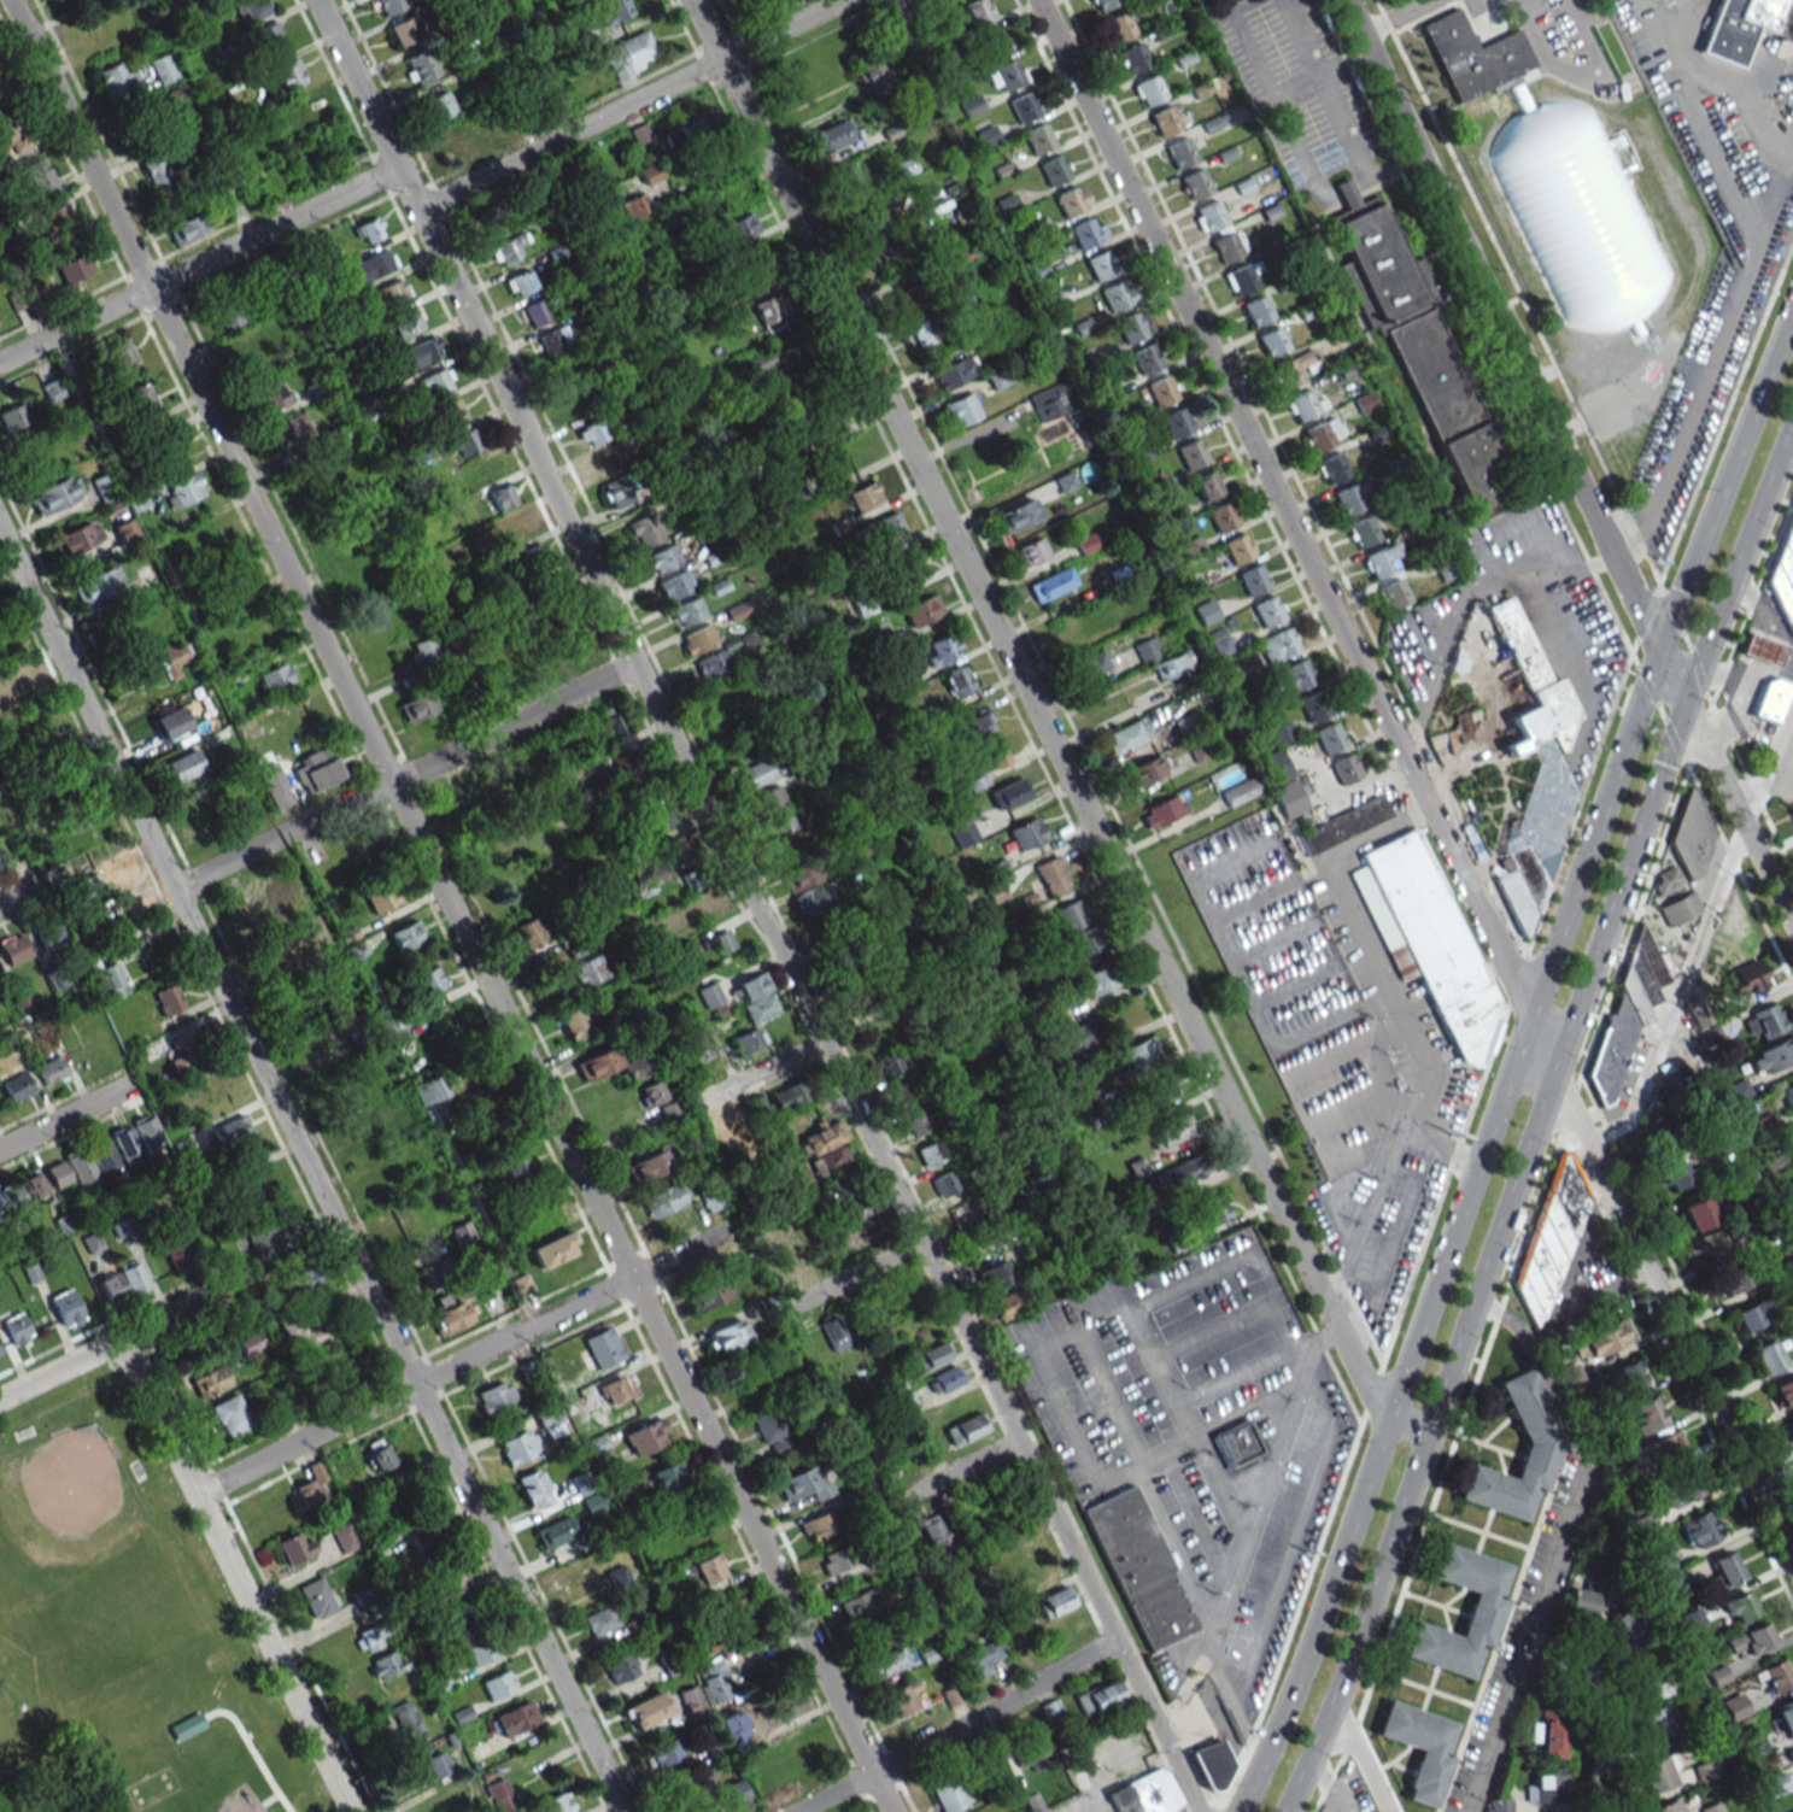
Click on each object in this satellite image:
building: (70, 1)
building: (1103, 4)
building: (391, 6)
building: (252, 8)
building: (616, 11)
building: (978, 12)
road: (1396, 17)
road: (1572, 22)
building: (1119, 25)
building: (1747, 25)
building: (403, 31)
building: (268, 37)
building: (991, 45)
building: (629, 54)
building: (1473, 55)
building: (1133, 58)
road: (1314, 64)
building: (421, 66)
building: (163, 68)
building: (288, 74)
building: (874, 75)
building: (1006, 76)
building: (116, 78)
road: (1722, 81)
building: (1148, 89)
road: (1297, 90)
road: (1272, 96)
building: (177, 99)
road: (629, 104)
building: (440, 105)
building: (971, 105)
building: (1023, 107)
building: (310, 112)
building: (1165, 121)
building: (695, 131)
building: (12, 135)
building: (833, 135)
building: (988, 136)
building: (1038, 137)
building: (1179, 152)
road: (1355, 156)
building: (906, 168)
building: (1054, 170)
building: (650, 172)
building: (159, 174)
building: (37, 175)
building: (849, 181)
building: (1195, 183)
road: (1360, 183)
road: (1347, 190)
building: (1072, 200)
building: (634, 205)
parking lot: (1713, 213)
building: (1209, 215)
building: (1531, 217)
building: (492, 218)
building: (967, 218)
building: (53, 221)
building: (189, 227)
building: (742, 227)
building: (369, 230)
building: (1086, 231)
building: (1229, 245)
building: (508, 250)
building: (887, 252)
road: (198, 264)
building: (373, 265)
building: (1100, 265)
building: (74, 268)
building: (758, 277)
building: (1242, 277)
building: (520, 283)
building: (392, 292)
building: (35, 294)
building: (1114, 297)
building: (909, 298)
building: (538, 309)
building: (1256, 310)
building: (768, 313)
building: (1599, 313)
building: (228, 315)
building: (406, 323)
building: (1133, 326)
building: (926, 330)
building: (553, 339)
road: (1507, 340)
building: (1271, 341)
building: (1417, 345)
building: (422, 351)
building: (118, 354)
building: (1145, 359)
building: (1294, 368)
building: (954, 371)
road: (1707, 373)
building: (768, 375)
building: (998, 377)
building: (435, 382)
building: (52, 389)
building: (315, 389)
building: (1161, 391)
building: (271, 394)
building: (141, 400)
building: (1047, 401)
building: (581, 403)
building: (1303, 405)
building: (961, 410)
building: (452, 411)
building: (821, 415)
building: (13, 417)
building: (1176, 422)
building: (289, 430)
building: (593, 433)
building: (1319, 434)
building: (463, 441)
building: (165, 448)
building: (1191, 453)
building: (609, 462)
building: (1332, 468)
building: (1207, 485)
building: (102, 487)
building: (183, 491)
building: (617, 493)
building: (54, 494)
building: (865, 495)
building: (502, 497)
building: (1354, 497)
building: (1016, 515)
building: (1223, 517)
building: (1792, 523)
building: (889, 524)
building: (517, 527)
building: (125, 530)
building: (643, 530)
building: (1363, 530)
building: (78, 536)
building: (1789, 543)
building: (1237, 549)
building: (1032, 551)
building: (662, 559)
building: (1381, 559)
building: (534, 561)
building: (1785, 565)
building: (1446, 568)
building: (150, 577)
building: (1253, 580)
building: (1051, 584)
building: (98, 585)
building: (675, 586)
building: (1393, 594)
building: (1781, 594)
road: (1461, 599)
building: (1112, 604)
building: (865, 605)
road: (1751, 606)
building: (922, 610)
building: (687, 611)
building: (1206, 611)
building: (1268, 611)
parking lot: (1524, 618)
building: (562, 621)
building: (698, 639)
building: (1220, 641)
building: (1277, 645)
traffic signals: (1658, 649)
building: (563, 650)
building: (942, 650)
building: (1145, 650)
building: (424, 651)
building: (1763, 651)
building: (174, 657)
building: (713, 664)
building: (1094, 664)
building: (1172, 664)
building: (499, 674)
building: (275, 678)
building: (1293, 678)
building: (957, 681)
building: (1771, 700)
building: (1314, 705)
traffic signals: (1684, 705)
building: (416, 706)
building: (744, 713)
building: (615, 717)
road: (1042, 721)
building: (170, 722)
building: (1185, 723)
building: (974, 727)
building: (592, 728)
road: (1628, 733)
building: (1127, 737)
building: (1330, 737)
road: (1700, 738)
building: (996, 755)
building: (625, 757)
building: (182, 766)
building: (317, 768)
building: (1344, 768)
building: (1145, 770)
building: (757, 772)
building: (1534, 775)
road: (403, 776)
road: (1416, 781)
building: (1282, 784)
road: (1752, 786)
building: (1240, 791)
building: (1009, 792)
building: (770, 799)
road: (1733, 802)
building: (1161, 810)
building: (1792, 811)
building: (78, 814)
building: (195, 816)
building: (658, 819)
building: (780, 823)
building: (1343, 825)
building: (962, 832)
building: (527, 833)
building: (1026, 833)
building: (673, 849)
building: (790, 849)
building: (0, 863)
building: (289, 873)
building: (799, 875)
building: (1051, 875)
building: (526, 876)
building: (695, 878)
building: (1666, 880)
building: (89, 886)
building: (996, 892)
road: (19, 893)
building: (381, 898)
building: (813, 901)
road: (450, 905)
road: (756, 905)
building: (250, 908)
building: (1680, 909)
building: (705, 910)
building: (1070, 915)
road: (1633, 923)
building: (529, 933)
road: (1703, 934)
building: (406, 936)
building: (52, 938)
building: (352, 942)
building: (324, 943)
building: (1082, 944)
building: (1432, 944)
building: (123, 946)
building: (13, 948)
building: (273, 956)
building: (590, 970)
building: (58, 977)
building: (1746, 978)
building: (109, 980)
building: (428, 980)
building: (1098, 980)
building: (709, 995)
building: (756, 997)
building: (168, 999)
building: (856, 1001)
building: (1698, 1014)
building: (1627, 1015)
building: (1765, 1020)
building: (573, 1022)
road: (1385, 1026)
building: (872, 1034)
building: (1074, 1037)
building: (746, 1040)
parking lot: (1337, 1040)
building: (699, 1048)
building: (1139, 1054)
building: (1776, 1054)
building: (183, 1061)
building: (611, 1065)
building: (887, 1065)
building: (51, 1069)
road: (756, 1075)
building: (16, 1087)
building: (428, 1090)
building: (650, 1093)
building: (787, 1096)
building: (904, 1096)
building: (1788, 1096)
building: (402, 1104)
building: (760, 1109)
road: (1569, 1109)
road: (68, 1115)
road: (1540, 1118)
building: (916, 1124)
building: (147, 1131)
building: (230, 1131)
building: (1171, 1131)
building: (739, 1132)
building: (822, 1136)
building: (125, 1142)
building: (184, 1148)
building: (931, 1153)
building: (90, 1160)
building: (828, 1161)
building: (515, 1166)
building: (646, 1166)
building: (1188, 1168)
road: (310, 1172)
building: (58, 1173)
building: (1681, 1175)
building: (799, 1177)
building: (943, 1184)
building: (34, 1185)
building: (247, 1186)
building: (711, 1197)
building: (10, 1198)
building: (664, 1198)
building: (998, 1206)
building: (1214, 1209)
building: (1699, 1213)
building: (960, 1216)
building: (1554, 1219)
building: (122, 1227)
building: (264, 1232)
building: (462, 1232)
building: (1715, 1243)
building: (793, 1248)
building: (176, 1249)
building: (552, 1249)
building: (1060, 1269)
building: (439, 1272)
road: (852, 1276)
building: (992, 1276)
building: (133, 1277)
building: (1739, 1279)
building: (301, 1282)
building: (112, 1289)
building: (707, 1294)
building: (1006, 1304)
building: (77, 1307)
building: (450, 1314)
building: (1753, 1314)
building: (14, 1326)
building: (298, 1330)
building: (832, 1332)
building: (725, 1336)
building: (1601, 1339)
building: (809, 1341)
road: (115, 1343)
building: (250, 1343)
building: (599, 1349)
building: (0, 1354)
building: (930, 1356)
building: (1766, 1356)
road: (462, 1361)
road: (1545, 1373)
building: (1630, 1376)
building: (750, 1377)
building: (945, 1378)
building: (210, 1382)
building: (615, 1390)
building: (1783, 1391)
building: (494, 1396)
building: (279, 1402)
building: (230, 1415)
building: (1648, 1415)
building: (550, 1420)
road: (1458, 1426)
building: (965, 1427)
building: (772, 1431)
building: (1789, 1431)
road: (1417, 1433)
building: (646, 1436)
parking lot: (1196, 1439)
building: (1542, 1443)
building: (1237, 1444)
building: (520, 1446)
building: (1657, 1450)
building: (377, 1454)
road: (1273, 1461)
road: (957, 1470)
building: (669, 1476)
building: (805, 1483)
building: (534, 1489)
building: (1680, 1489)
road: (1361, 1491)
building: (400, 1495)
park: (70, 1497)
building: (818, 1525)
building: (1699, 1529)
building: (555, 1531)
building: (934, 1534)
building: (342, 1536)
building: (429, 1538)
building: (294, 1548)
building: (1029, 1555)
building: (836, 1560)
building: (1139, 1565)
building: (710, 1568)
building: (1723, 1568)
building: (1668, 1571)
road: (235, 1576)
building: (1043, 1577)
building: (449, 1583)
building: (363, 1597)
building: (316, 1599)
building: (1054, 1602)
building: (1580, 1602)
building: (857, 1605)
building: (1739, 1607)
building: (1483, 1609)
building: (465, 1618)
building: (599, 1620)
building: (1066, 1625)
park: (124, 1630)
building: (1627, 1631)
building: (373, 1636)
building: (1748, 1640)
road: (1527, 1641)
building: (481, 1650)
building: (978, 1660)
building: (889, 1661)
building: (386, 1665)
building: (620, 1667)
building: (1775, 1676)
building: (1650, 1683)
building: (497, 1684)
building: (714, 1687)
building: (903, 1697)
building: (1097, 1697)
building: (691, 1701)
building: (644, 1710)
building: (1050, 1710)
building: (1785, 1717)
building: (405, 1719)
building: (510, 1720)
building: (186, 1726)
building: (733, 1726)
road: (955, 1729)
building: (1653, 1729)
building: (1551, 1734)
road: (1601, 1734)
road: (1349, 1736)
building: (1417, 1748)
road: (252, 1749)
building: (1029, 1751)
building: (664, 1753)
building: (1789, 1754)
road: (1358, 1758)
building: (435, 1764)
building: (1211, 1765)
building: (1705, 1770)
building: (1658, 1772)
building: (756, 1778)
road: (1328, 1782)
road: (1331, 1784)
building: (1773, 1784)
building: (1546, 1785)
park: (152, 1789)
building: (725, 1792)
building: (1153, 1793)
building: (499, 1794)
building: (948, 1795)
road: (270, 1800)
building: (556, 1804)
building: (1668, 1806)
building: (1711, 1807)

